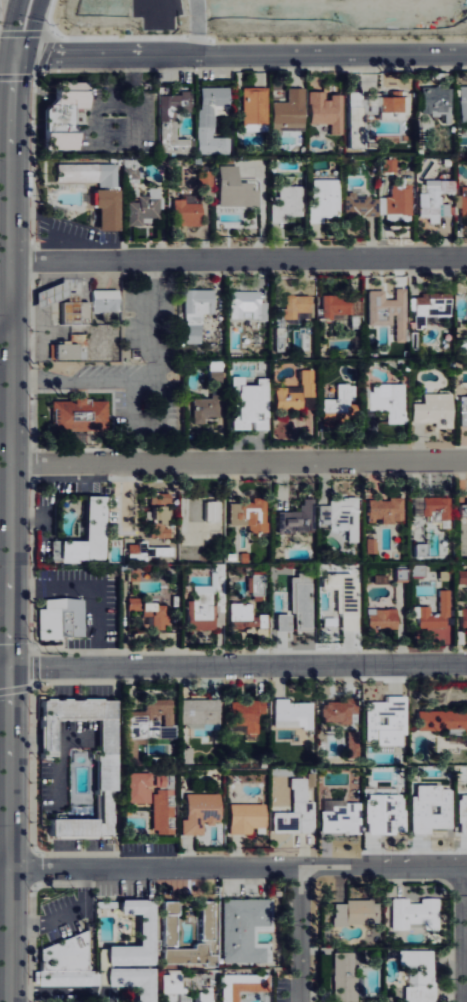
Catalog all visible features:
road: (6, 55)
road: (239, 55)
building: (434, 103)
building: (462, 104)
building: (254, 105)
building: (325, 110)
building: (288, 112)
building: (56, 114)
building: (172, 119)
building: (211, 120)
building: (355, 128)
building: (387, 165)
building: (203, 184)
building: (232, 189)
building: (103, 199)
building: (434, 199)
building: (395, 201)
building: (463, 201)
building: (359, 204)
building: (143, 207)
building: (284, 210)
building: (183, 213)
road: (237, 259)
road: (3, 266)
building: (103, 301)
building: (243, 303)
building: (293, 305)
building: (333, 306)
building: (429, 310)
building: (71, 312)
building: (194, 312)
building: (387, 312)
road: (3, 334)
building: (462, 347)
building: (67, 348)
road: (3, 358)
building: (213, 374)
road: (141, 382)
building: (291, 393)
building: (337, 401)
building: (386, 401)
building: (248, 404)
building: (203, 408)
building: (432, 410)
building: (462, 410)
building: (77, 415)
road: (135, 422)
road: (3, 442)
road: (236, 462)
building: (156, 498)
road: (7, 500)
building: (463, 503)
building: (384, 510)
building: (209, 511)
building: (247, 514)
building: (340, 516)
building: (295, 517)
building: (155, 524)
building: (370, 546)
building: (143, 549)
building: (133, 575)
building: (461, 577)
building: (256, 585)
road: (91, 589)
building: (341, 598)
building: (294, 607)
building: (420, 610)
road: (4, 613)
building: (239, 618)
building: (379, 618)
building: (462, 618)
building: (59, 619)
building: (154, 619)
road: (233, 668)
building: (157, 711)
building: (197, 711)
building: (337, 711)
building: (244, 714)
building: (293, 717)
building: (443, 723)
building: (184, 755)
building: (104, 788)
building: (137, 788)
building: (161, 807)
building: (428, 809)
building: (198, 812)
building: (294, 812)
building: (383, 814)
building: (461, 814)
building: (338, 817)
building: (243, 818)
road: (4, 857)
road: (237, 869)
road: (4, 872)
building: (354, 913)
building: (412, 914)
building: (202, 920)
building: (167, 921)
road: (45, 923)
building: (144, 930)
building: (240, 930)
road: (298, 935)
road: (462, 936)
building: (64, 954)
building: (186, 954)
building: (417, 975)
building: (129, 980)
building: (241, 985)
building: (169, 987)
road: (58, 991)
building: (201, 997)

